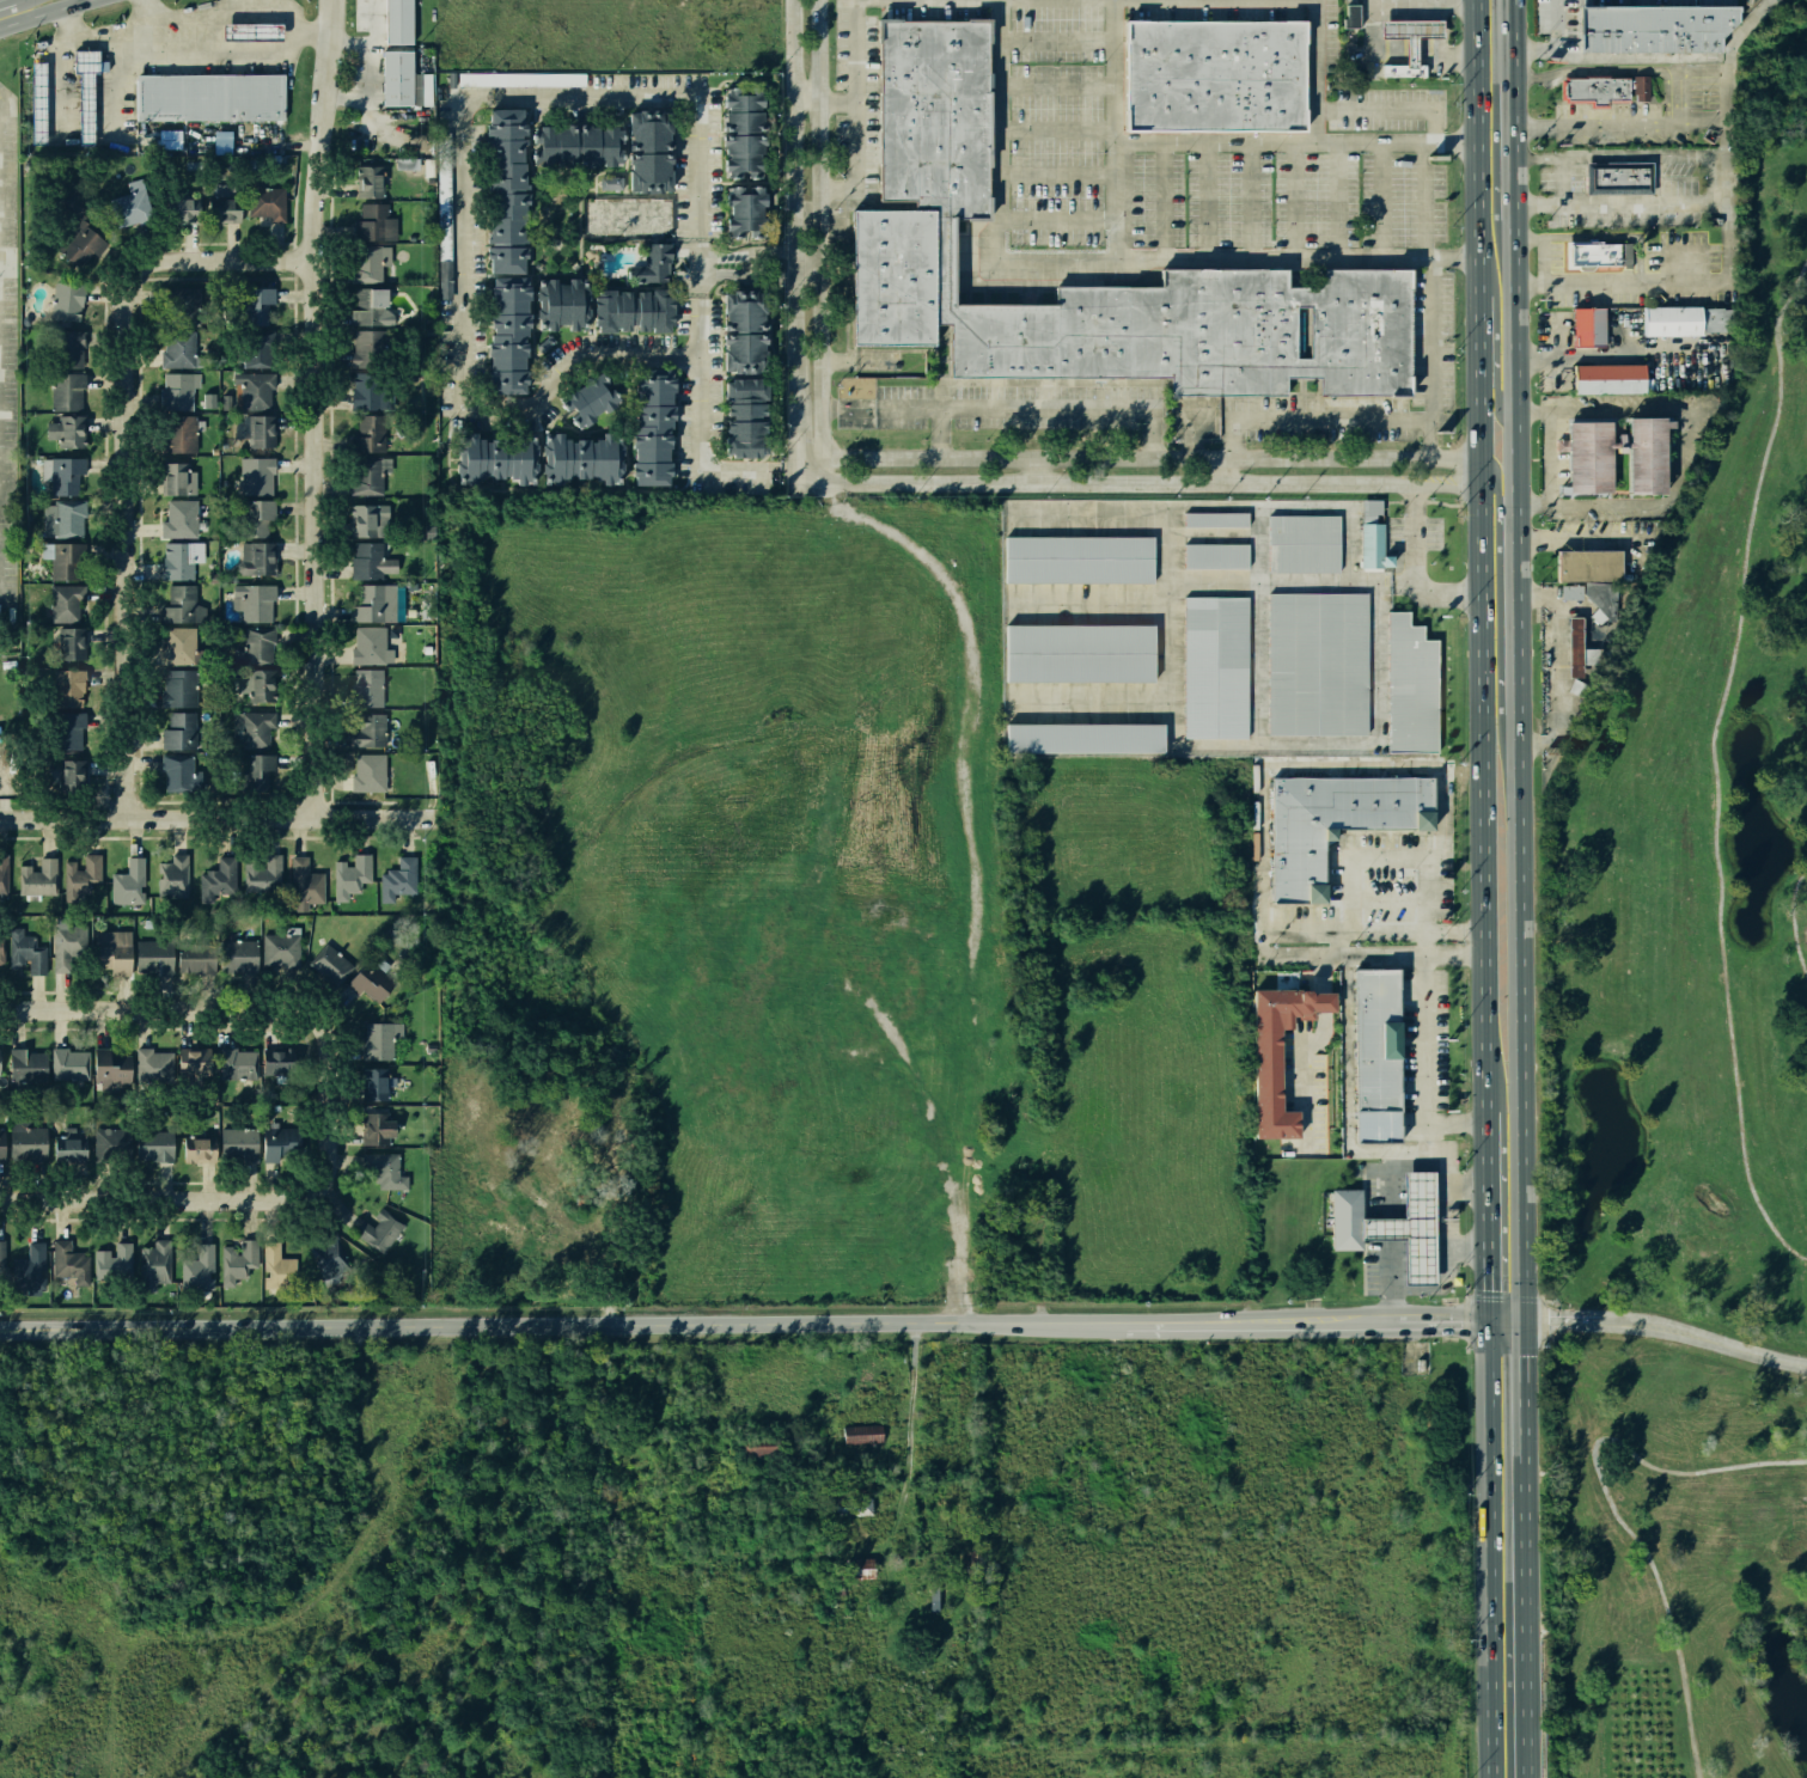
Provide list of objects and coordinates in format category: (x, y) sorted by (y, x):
road: (1454, 0)
road: (273, 11)
road: (41, 12)
road: (184, 14)
building: (1351, 16)
road: (144, 22)
building: (398, 23)
road: (218, 26)
road: (1437, 26)
gas station: (1411, 30)
building: (252, 31)
gas station: (252, 32)
building: (1654, 32)
road: (1062, 39)
building: (1411, 41)
road: (1552, 43)
road: (1430, 48)
road: (1386, 49)
road: (1405, 49)
road: (1351, 51)
road: (1398, 51)
road: (193, 54)
road: (1405, 61)
road: (60, 68)
road: (1611, 68)
road: (1317, 71)
building: (1215, 78)
building: (520, 79)
building: (396, 80)
road: (1061, 85)
road: (1722, 90)
building: (85, 91)
building: (1607, 92)
road: (1678, 96)
building: (209, 99)
road: (825, 100)
building: (37, 105)
road: (1392, 108)
road: (857, 112)
building: (933, 112)
road: (1701, 120)
road: (1533, 126)
building: (737, 129)
road: (1060, 130)
road: (469, 136)
building: (170, 140)
road: (1223, 142)
building: (570, 143)
building: (646, 149)
road: (1060, 175)
building: (370, 179)
building: (1620, 181)
building: (611, 183)
building: (501, 188)
road: (1164, 196)
building: (445, 197)
road: (1208, 197)
road: (1252, 198)
road: (1296, 198)
road: (1339, 198)
road: (1381, 198)
building: (264, 200)
road: (1115, 203)
road: (1599, 203)
building: (130, 207)
building: (179, 209)
building: (222, 209)
building: (740, 212)
road: (1060, 216)
building: (371, 220)
road: (1422, 224)
road: (792, 233)
building: (78, 237)
road: (1595, 238)
road: (818, 240)
road: (761, 252)
building: (1593, 257)
building: (651, 259)
building: (370, 261)
road: (1542, 262)
road: (1079, 264)
building: (893, 280)
road: (1614, 283)
building: (66, 303)
building: (252, 303)
building: (556, 303)
building: (182, 305)
building: (367, 308)
building: (629, 310)
building: (1668, 323)
building: (741, 325)
building: (1588, 330)
building: (501, 334)
building: (1207, 335)
road: (1428, 340)
building: (65, 347)
building: (372, 347)
building: (260, 348)
parking lot: (7, 350)
building: (182, 350)
road: (853, 360)
road: (1491, 377)
building: (1610, 383)
building: (257, 390)
building: (65, 391)
building: (182, 391)
building: (366, 391)
building: (581, 398)
building: (208, 404)
road: (1012, 407)
road: (310, 408)
building: (739, 414)
building: (224, 416)
road: (1314, 420)
building: (256, 430)
building: (648, 432)
building: (67, 433)
building: (176, 433)
road: (940, 433)
building: (368, 434)
road: (1683, 442)
road: (117, 450)
building: (214, 450)
building: (578, 456)
road: (703, 456)
building: (494, 458)
road: (1135, 458)
road: (1549, 458)
road: (1460, 469)
road: (1034, 470)
building: (368, 472)
building: (1647, 473)
building: (65, 476)
building: (255, 476)
building: (177, 477)
road: (1134, 483)
road: (1497, 499)
road: (1415, 501)
road: (1447, 503)
road: (1294, 507)
building: (1370, 509)
building: (254, 515)
building: (181, 518)
building: (67, 519)
building: (367, 519)
road: (1387, 519)
building: (1216, 521)
building: (431, 531)
road: (1214, 536)
road: (1258, 543)
building: (1305, 545)
building: (1373, 550)
building: (1214, 556)
building: (256, 557)
building: (1080, 557)
building: (65, 558)
building: (176, 560)
building: (371, 560)
road: (1412, 568)
building: (1591, 569)
road: (1479, 573)
road: (1290, 581)
building: (423, 587)
building: (1603, 600)
building: (67, 601)
building: (254, 601)
road: (1088, 603)
building: (376, 604)
road: (1167, 605)
building: (181, 606)
building: (391, 630)
road: (1605, 631)
building: (72, 643)
building: (258, 644)
building: (370, 646)
building: (182, 648)
building: (427, 649)
building: (1580, 649)
building: (1080, 653)
road: (1514, 658)
road: (1257, 662)
road: (1556, 665)
building: (1318, 666)
building: (1214, 670)
building: (263, 686)
building: (368, 686)
building: (72, 688)
building: (1577, 688)
building: (178, 689)
building: (1410, 690)
building: (255, 727)
building: (71, 729)
building: (368, 729)
building: (179, 732)
road: (1538, 733)
building: (1085, 738)
road: (1332, 744)
road: (1713, 760)
road: (1366, 768)
building: (372, 772)
building: (177, 774)
building: (257, 774)
building: (73, 776)
road: (218, 818)
building: (1332, 821)
building: (263, 873)
building: (4, 875)
building: (81, 875)
building: (173, 876)
building: (352, 876)
building: (38, 878)
building: (219, 879)
building: (398, 881)
building: (128, 882)
building: (305, 884)
road: (1793, 919)
road: (1343, 939)
building: (66, 943)
building: (282, 947)
building: (2, 948)
building: (112, 951)
building: (25, 952)
building: (238, 955)
building: (155, 958)
building: (196, 958)
building: (383, 963)
building: (330, 964)
building: (370, 980)
road: (129, 1007)
road: (136, 1027)
road: (1313, 1035)
building: (383, 1038)
building: (431, 1049)
building: (1278, 1052)
building: (1376, 1057)
building: (195, 1061)
building: (281, 1061)
building: (238, 1063)
building: (68, 1064)
building: (26, 1065)
building: (111, 1067)
building: (153, 1067)
park: (1692, 1068)
park: (1690, 1076)
building: (376, 1083)
building: (114, 1099)
road: (344, 1102)
building: (126, 1108)
building: (379, 1126)
building: (279, 1141)
building: (28, 1142)
building: (111, 1142)
building: (238, 1143)
building: (1, 1144)
building: (154, 1144)
building: (71, 1145)
road: (1424, 1145)
building: (199, 1149)
building: (385, 1169)
road: (66, 1181)
road: (207, 1181)
road: (1448, 1184)
road: (279, 1199)
park: (1677, 1209)
building: (1345, 1218)
road: (1387, 1221)
building: (1412, 1227)
gas station: (1410, 1228)
building: (379, 1229)
road: (1485, 1230)
building: (329, 1255)
building: (1, 1260)
building: (238, 1260)
building: (69, 1261)
building: (114, 1263)
building: (154, 1264)
building: (273, 1265)
building: (30, 1269)
building: (199, 1269)
road: (1443, 1272)
traffic signals: (1485, 1315)
road: (1501, 1315)
traffic signals: (1518, 1316)
road: (741, 1318)
road: (1663, 1328)
building: (862, 1434)
building: (759, 1448)
road: (908, 1456)
building: (850, 1503)
road: (1610, 1505)
park: (1756, 1521)
road: (1486, 1546)
road: (1519, 1547)
building: (972, 1559)
building: (860, 1568)

